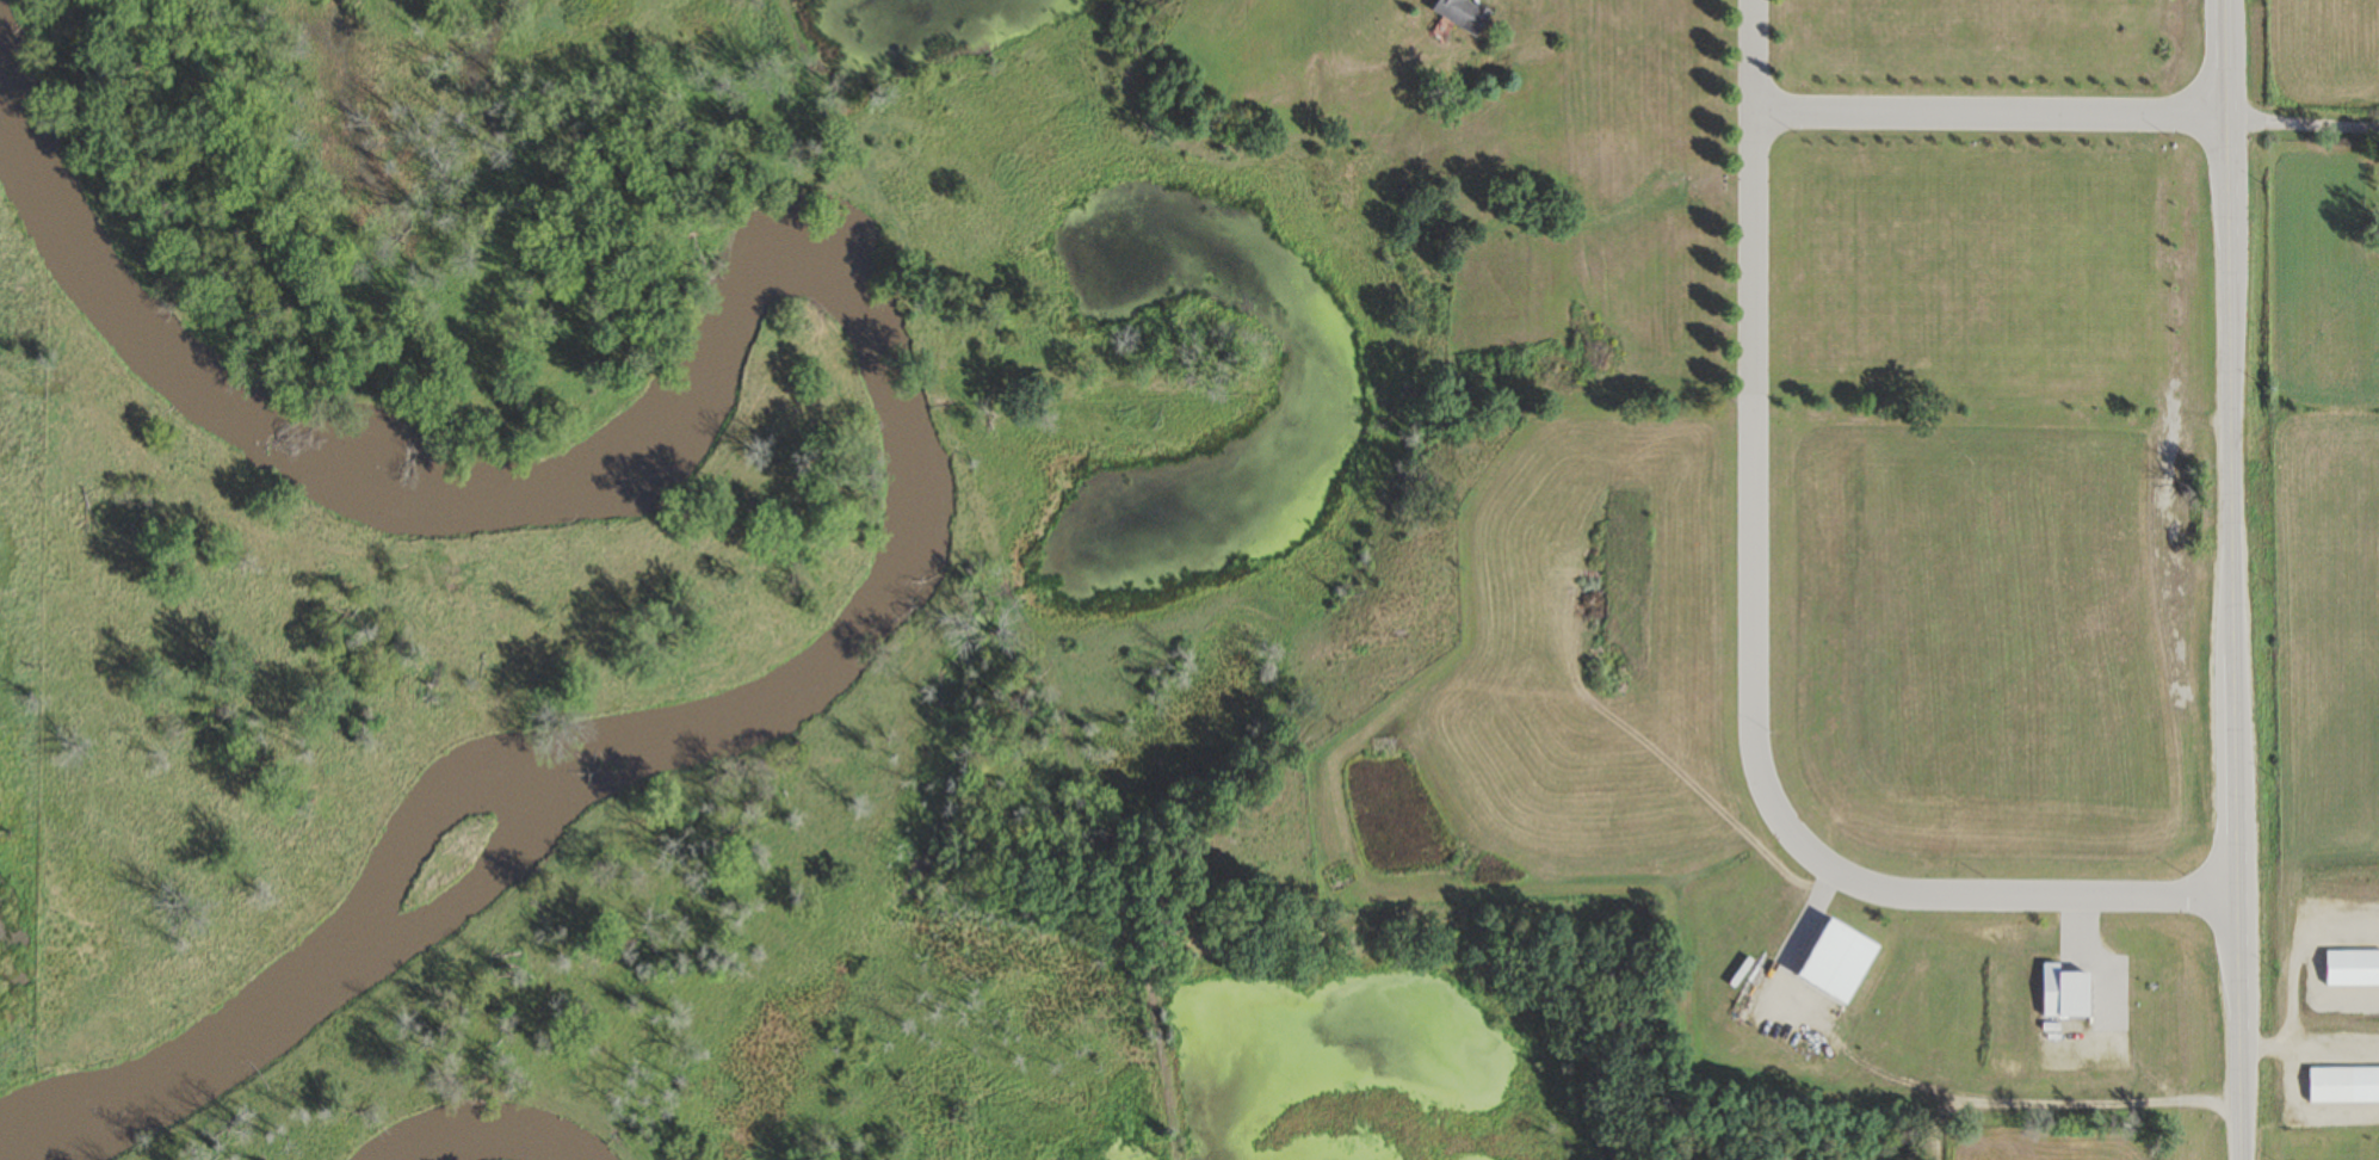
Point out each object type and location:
building: (1459, 14)
road: (1990, 117)
road: (2303, 124)
river: (179, 358)
river: (913, 477)
road: (2231, 580)
road: (1755, 653)
building: (1834, 962)
building: (2350, 968)
building: (2063, 988)
river: (220, 1048)
building: (2342, 1086)
river: (486, 1139)

